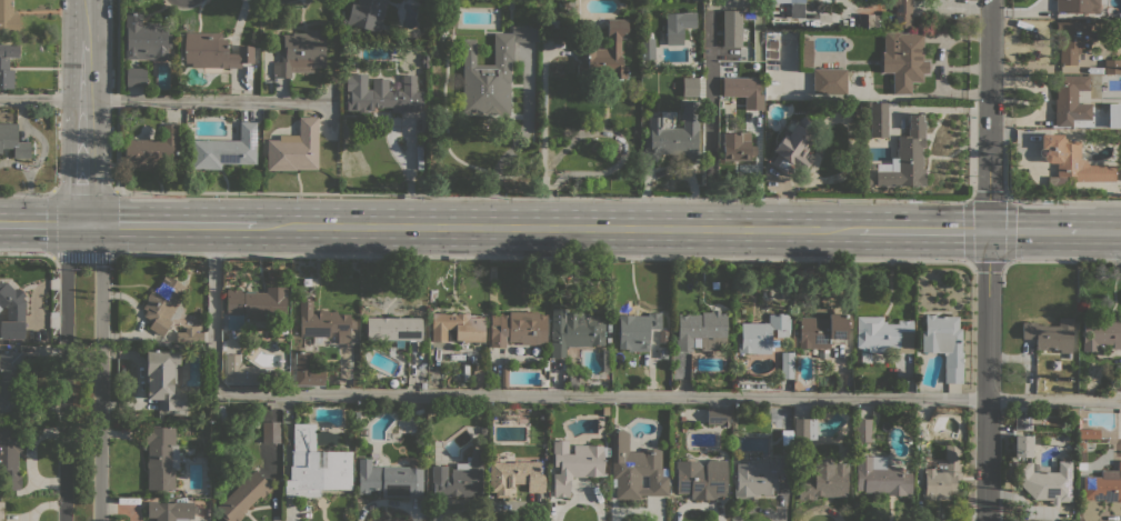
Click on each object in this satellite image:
building: (797, 1)
building: (1077, 4)
building: (568, 6)
building: (902, 12)
building: (367, 13)
building: (448, 17)
building: (8, 18)
road: (86, 19)
building: (868, 20)
building: (552, 23)
building: (678, 26)
building: (144, 38)
building: (1071, 39)
building: (648, 48)
building: (213, 51)
building: (603, 52)
building: (804, 52)
building: (301, 53)
building: (903, 60)
building: (424, 61)
building: (8, 63)
building: (1112, 66)
building: (490, 73)
road: (84, 74)
building: (136, 77)
building: (830, 81)
building: (382, 94)
road: (164, 101)
building: (1070, 102)
building: (715, 114)
building: (879, 118)
building: (673, 134)
building: (12, 141)
building: (737, 146)
building: (794, 147)
building: (294, 148)
building: (224, 149)
building: (153, 151)
building: (907, 156)
building: (1070, 162)
road: (84, 168)
building: (1118, 172)
building: (868, 180)
road: (26, 192)
road: (156, 192)
road: (725, 197)
road: (970, 197)
road: (41, 223)
road: (52, 223)
traffic signals: (84, 224)
road: (169, 224)
road: (557, 227)
road: (922, 229)
traffic signals: (988, 230)
road: (1033, 230)
road: (1100, 231)
road: (26, 251)
road: (542, 257)
road: (988, 260)
road: (1039, 261)
building: (162, 303)
building: (258, 303)
building: (11, 312)
building: (326, 325)
building: (457, 327)
building: (517, 328)
building: (700, 328)
building: (393, 329)
building: (573, 330)
building: (635, 330)
building: (821, 331)
building: (1101, 332)
building: (762, 333)
building: (883, 334)
building: (1049, 334)
building: (189, 335)
building: (708, 342)
building: (944, 343)
building: (390, 351)
building: (662, 352)
building: (864, 358)
building: (787, 364)
road: (66, 370)
road: (100, 370)
building: (307, 370)
building: (503, 375)
building: (422, 377)
building: (478, 378)
building: (163, 379)
building: (10, 382)
building: (572, 382)
building: (1115, 382)
building: (354, 383)
road: (583, 394)
building: (843, 413)
building: (717, 415)
building: (1020, 420)
building: (804, 429)
building: (862, 430)
building: (270, 432)
building: (1088, 432)
building: (1020, 445)
building: (1080, 445)
building: (10, 455)
building: (161, 457)
building: (574, 464)
building: (314, 465)
building: (1081, 465)
building: (634, 469)
building: (943, 475)
building: (458, 477)
building: (513, 477)
building: (759, 477)
building: (880, 477)
building: (389, 479)
building: (701, 479)
building: (825, 480)
building: (1045, 481)
building: (1104, 483)
building: (243, 497)
building: (1, 510)
building: (171, 510)

